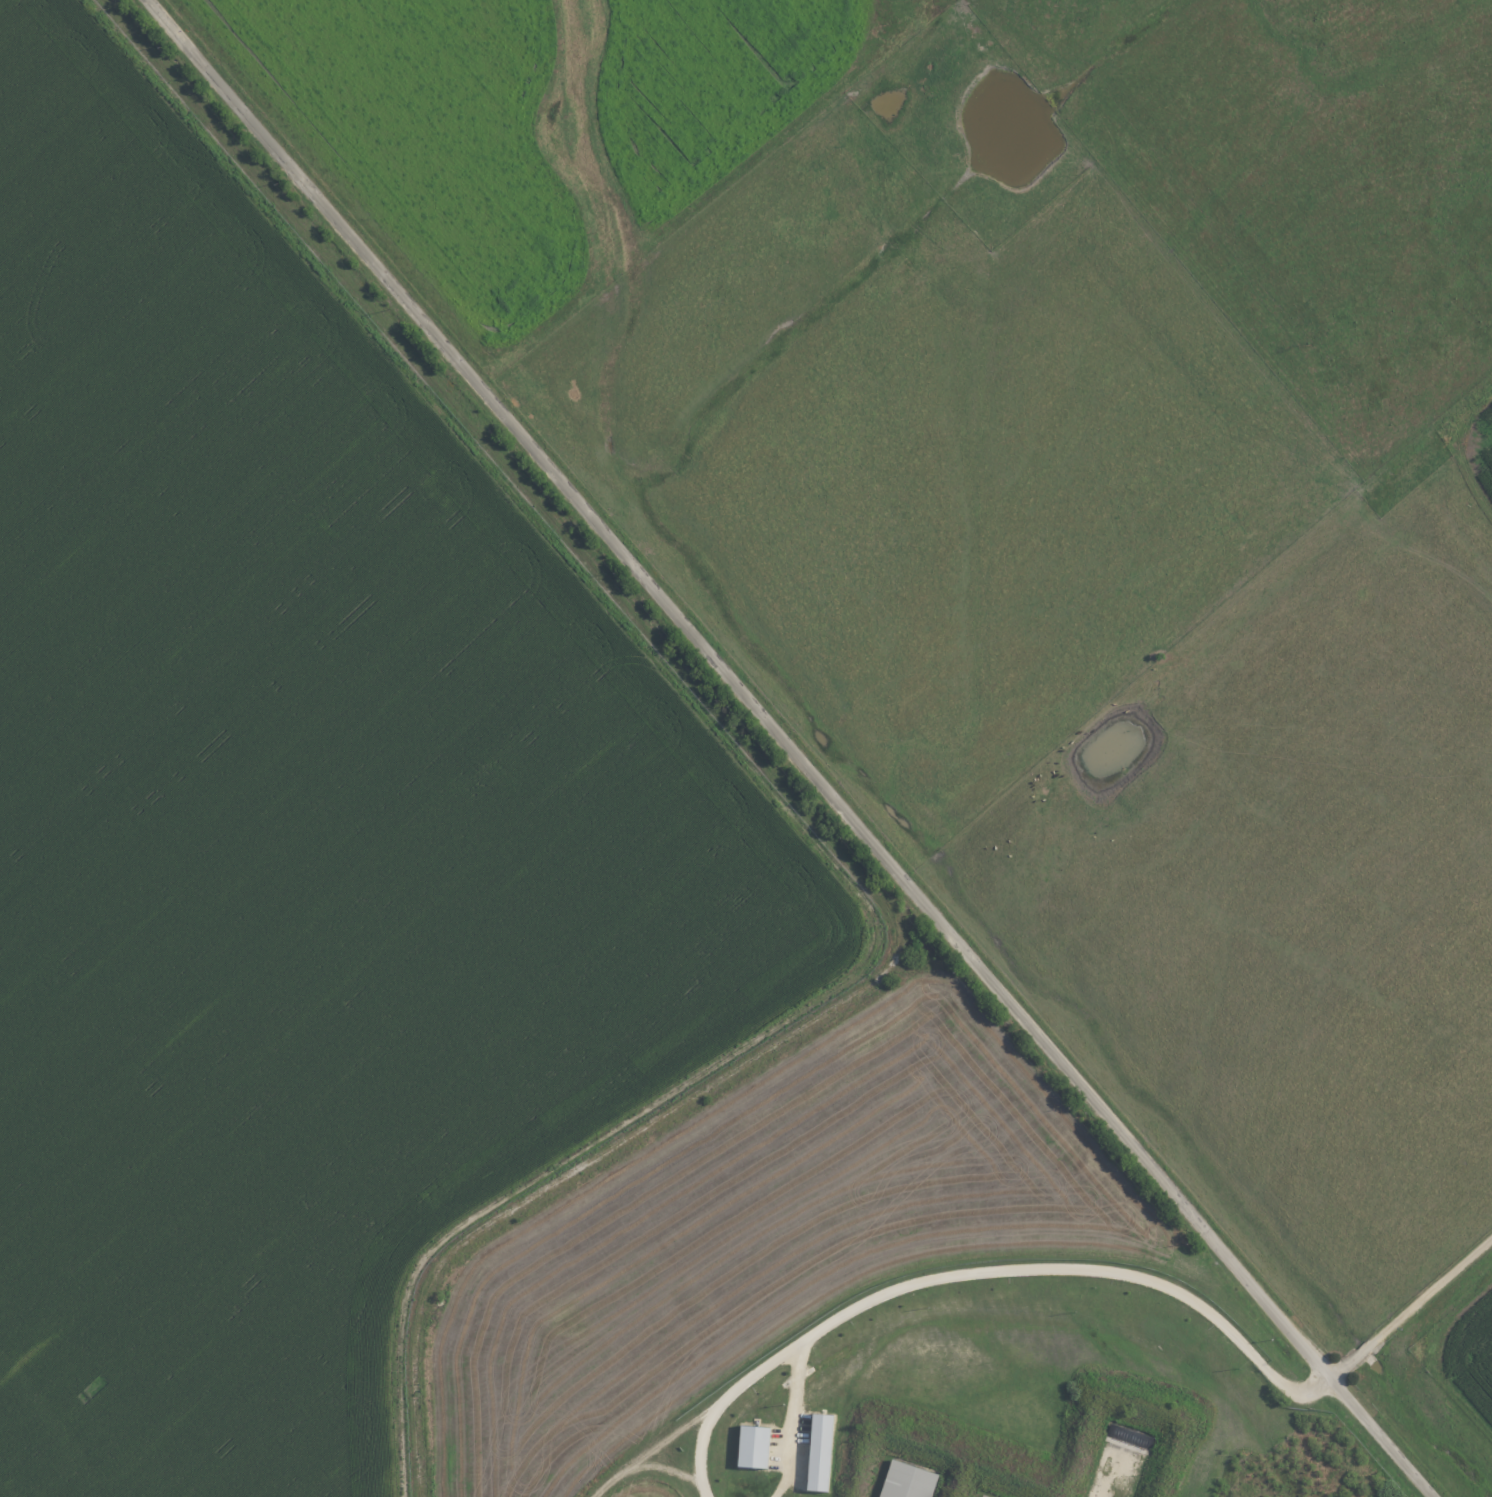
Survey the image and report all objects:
road: (791, 747)
road: (767, 771)
airport: (304, 827)
road: (1092, 1269)
road: (793, 1420)
road: (666, 1440)
building: (757, 1446)
building: (823, 1451)
road: (644, 1466)
building: (909, 1480)
road: (703, 1491)

